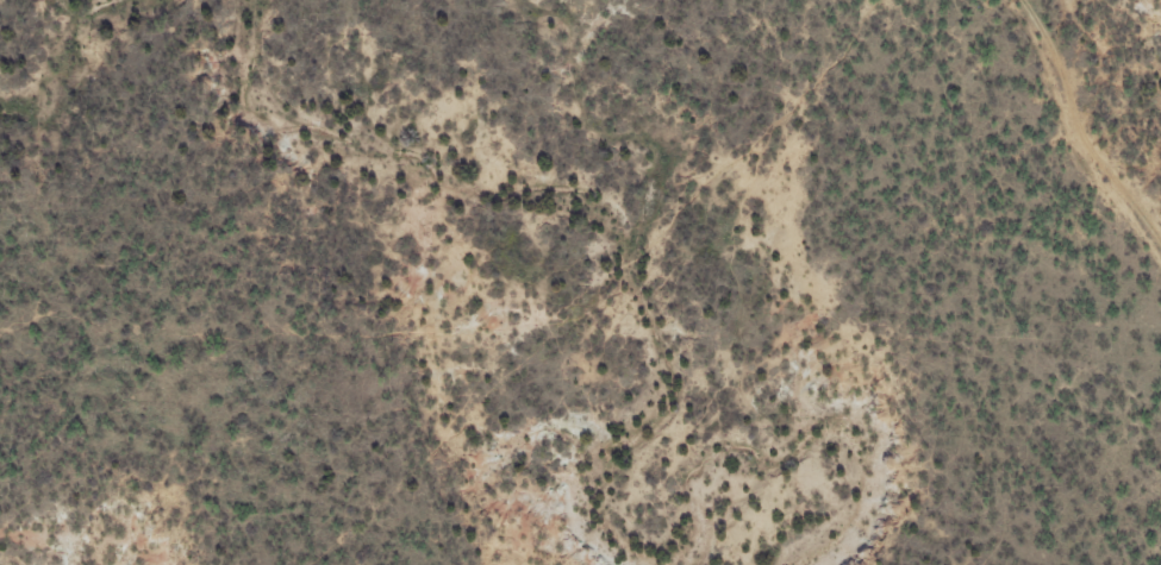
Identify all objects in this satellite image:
road: (1071, 156)

